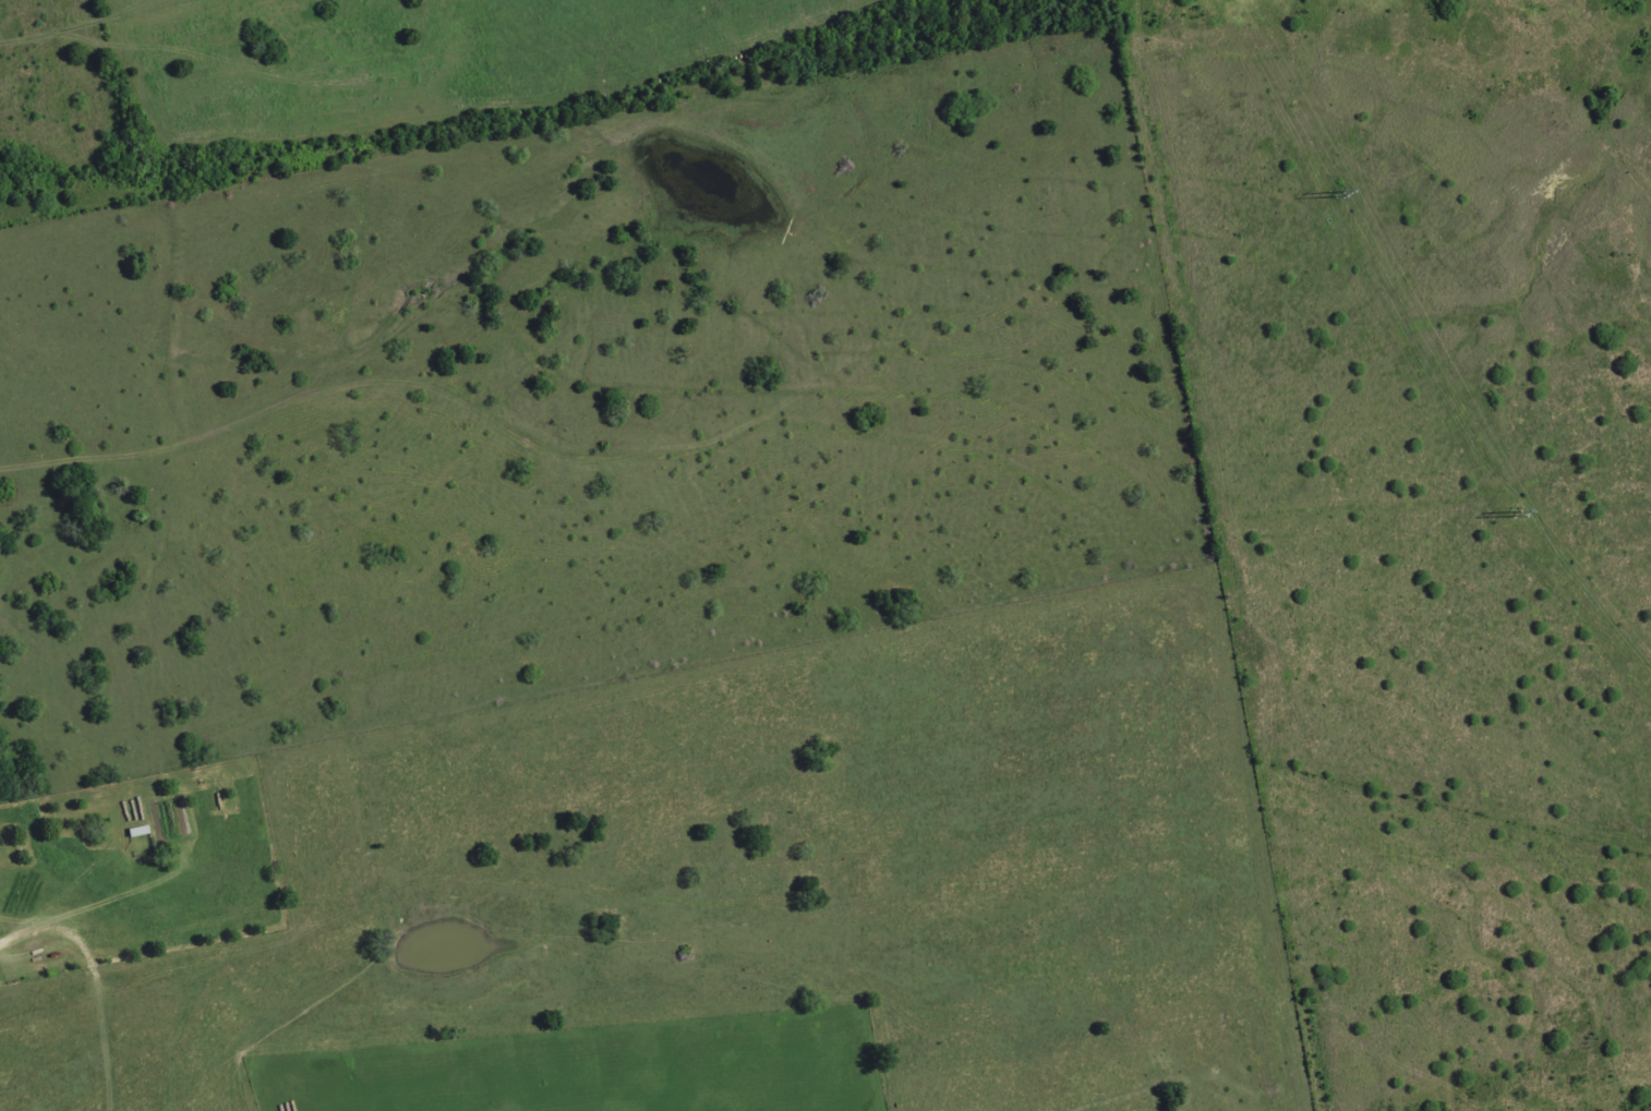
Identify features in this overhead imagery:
road: (117, 9)
road: (91, 24)
road: (37, 50)
road: (350, 80)
power tower: (1341, 194)
power tower: (1518, 515)
building: (136, 831)

